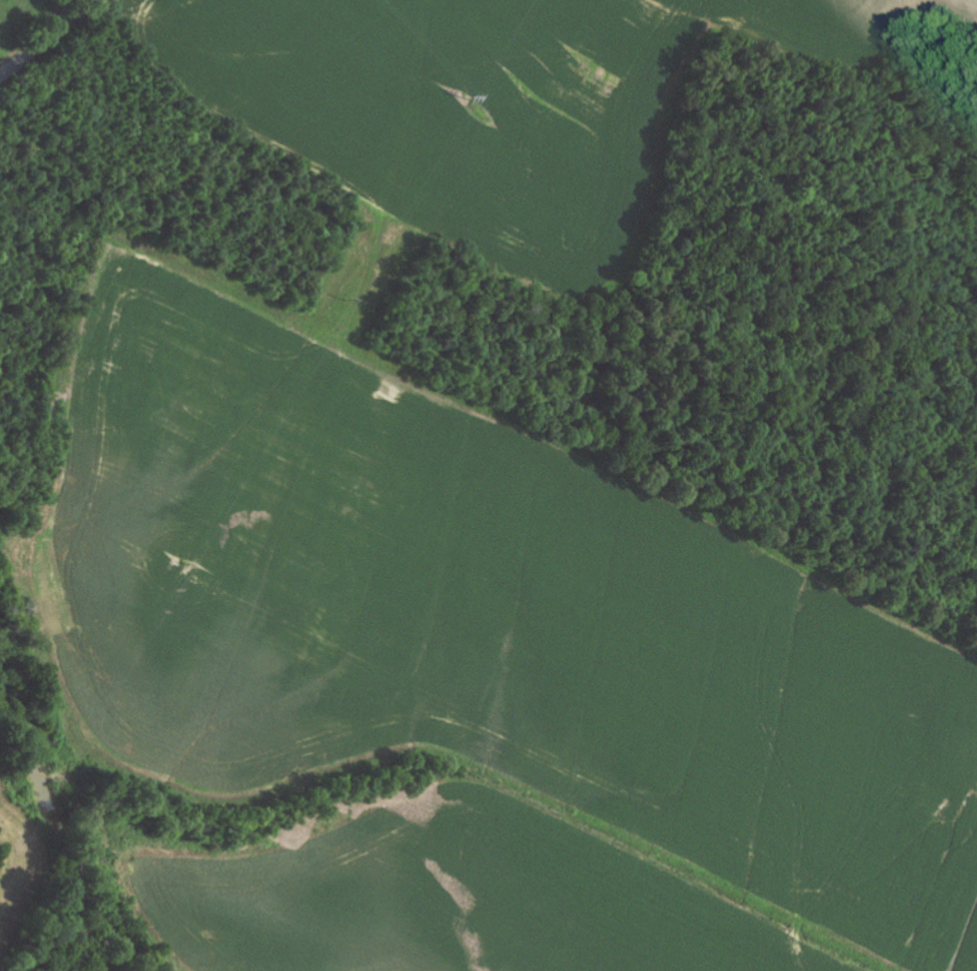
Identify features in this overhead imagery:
road: (42, 41)

